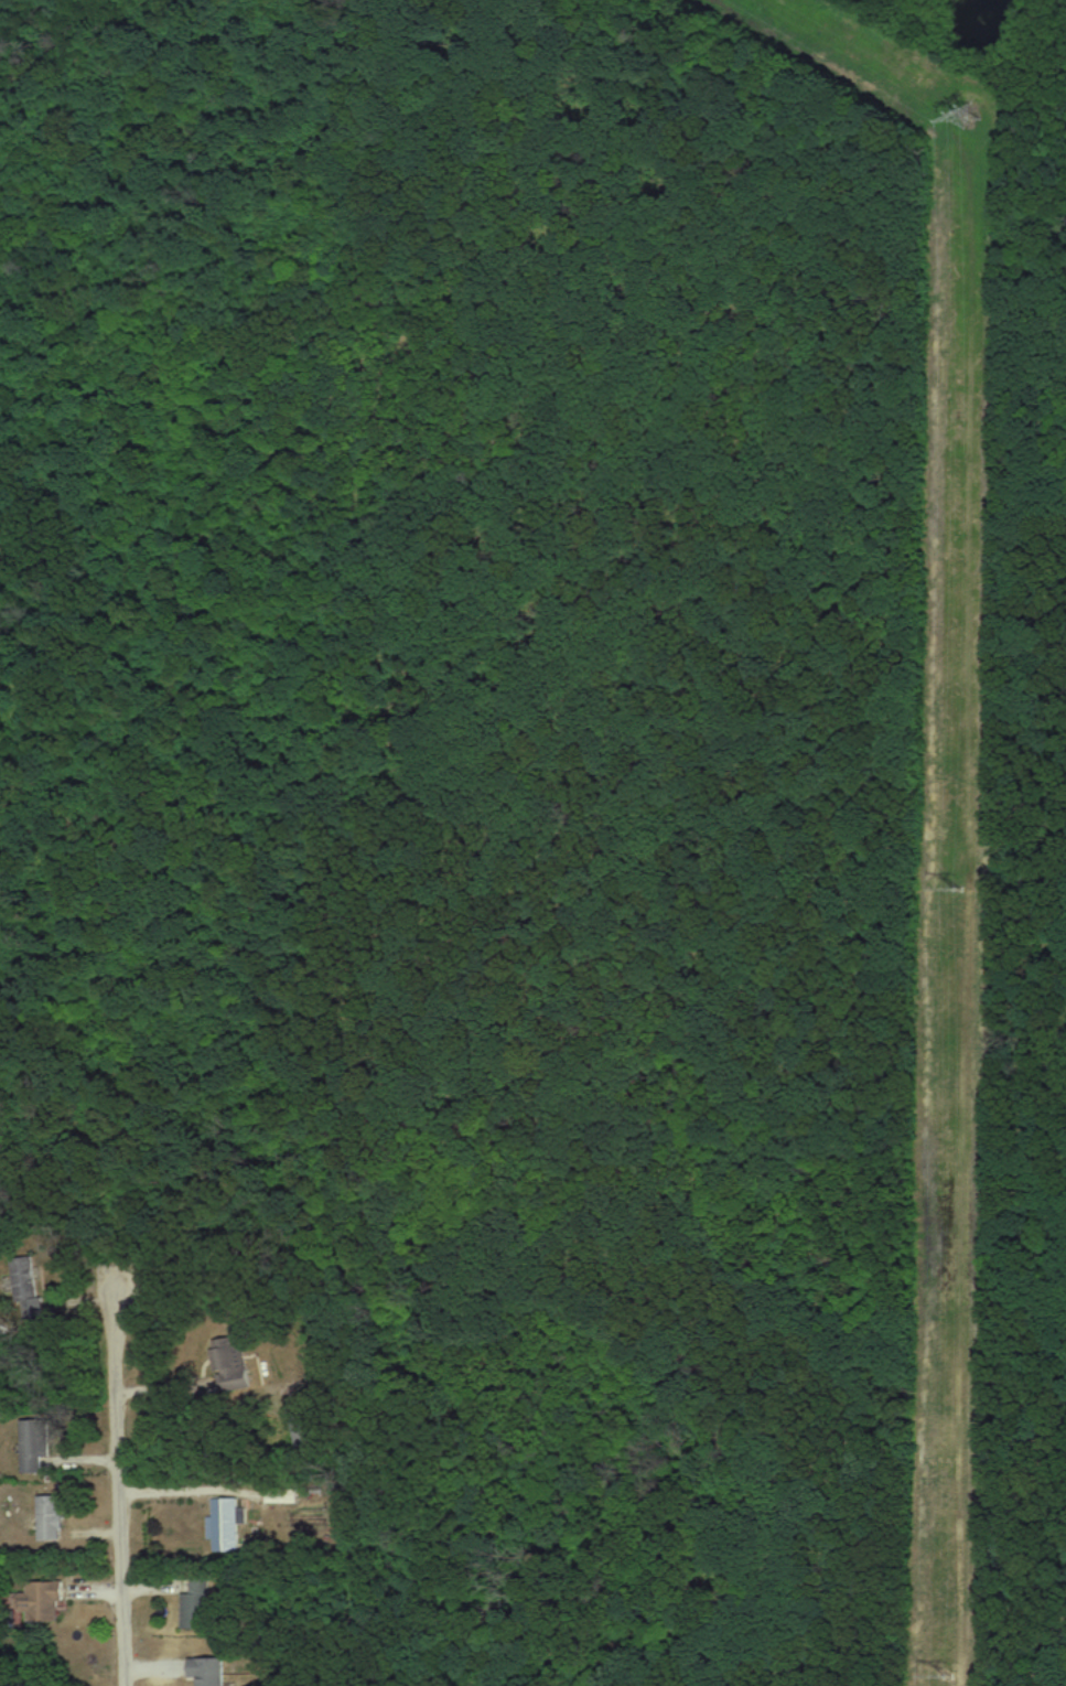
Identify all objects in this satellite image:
building: (34, 1446)
road: (121, 1490)
building: (283, 1499)
building: (52, 1517)
building: (227, 1523)
building: (43, 1600)
building: (196, 1602)
building: (209, 1672)

